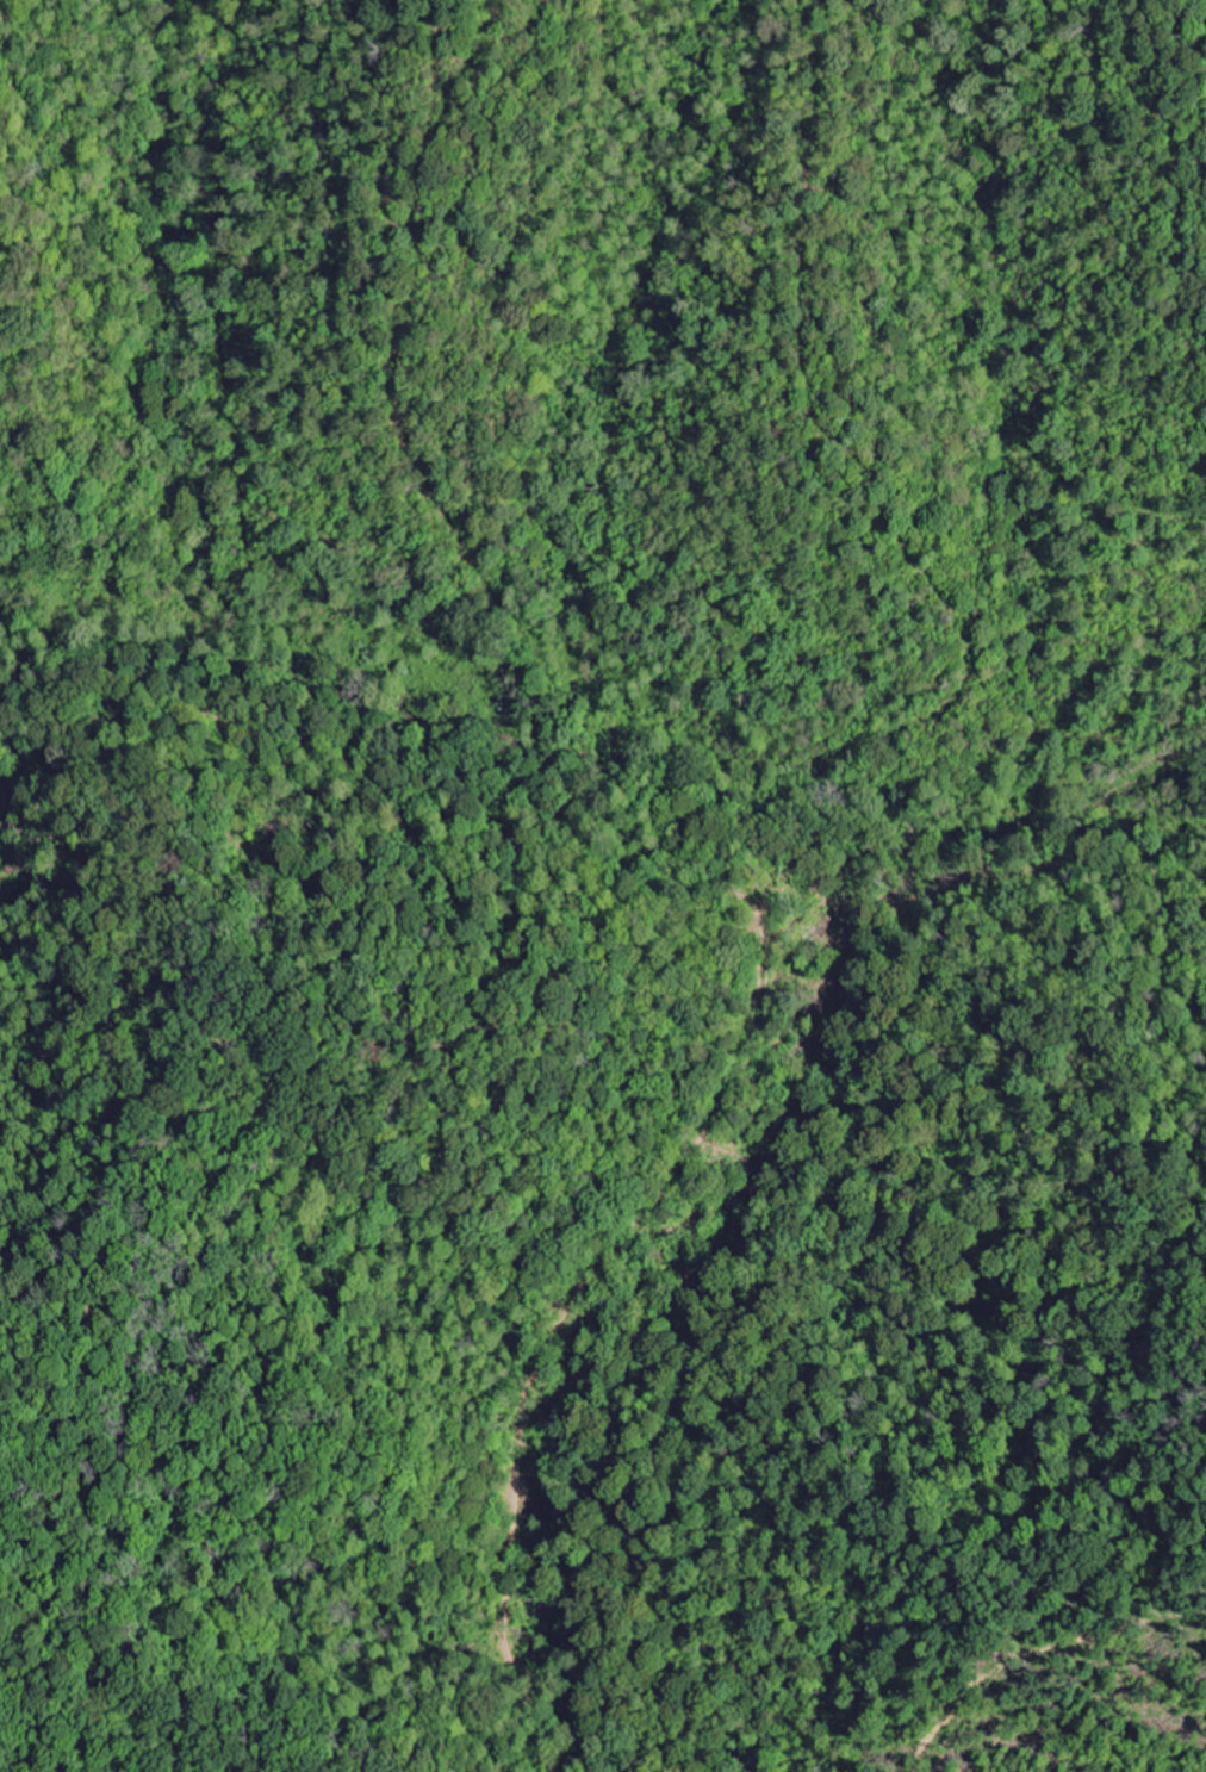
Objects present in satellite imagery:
road: (207, 623)
road: (798, 813)

